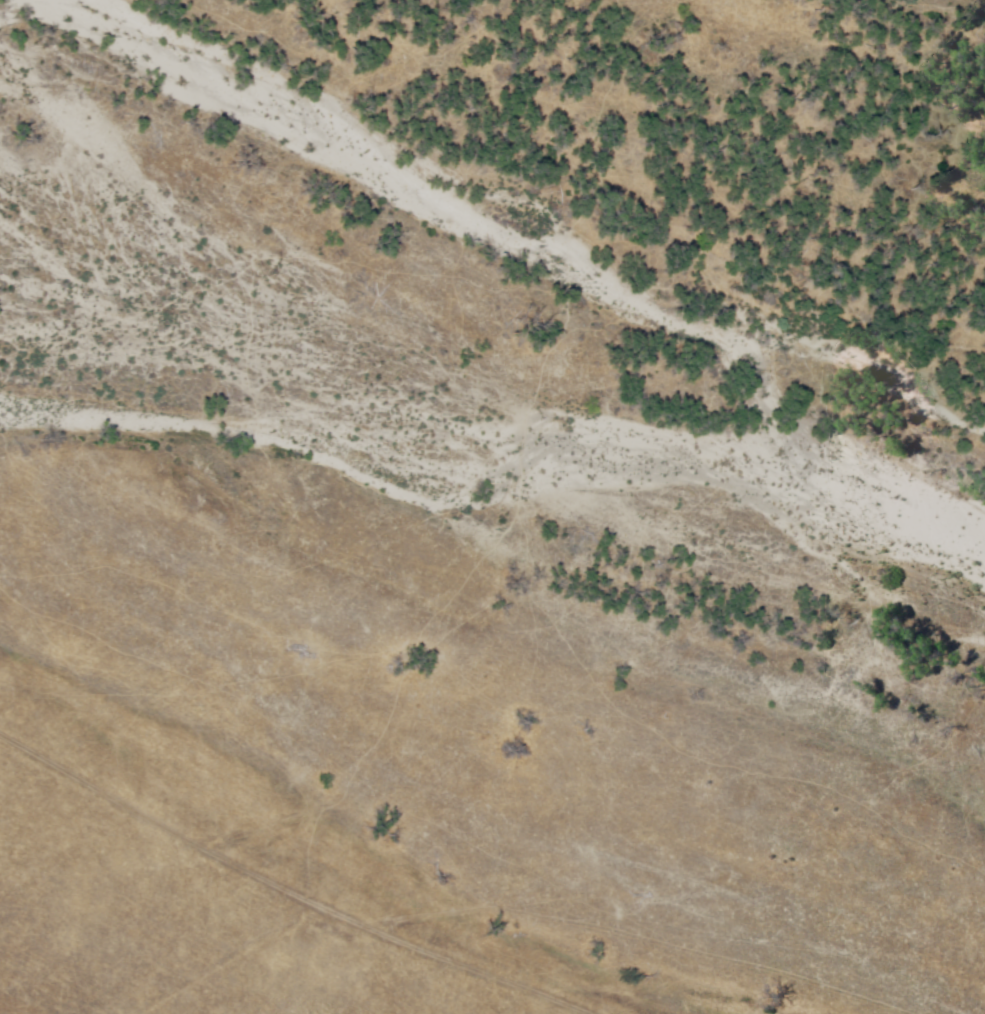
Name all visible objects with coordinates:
road: (285, 891)

